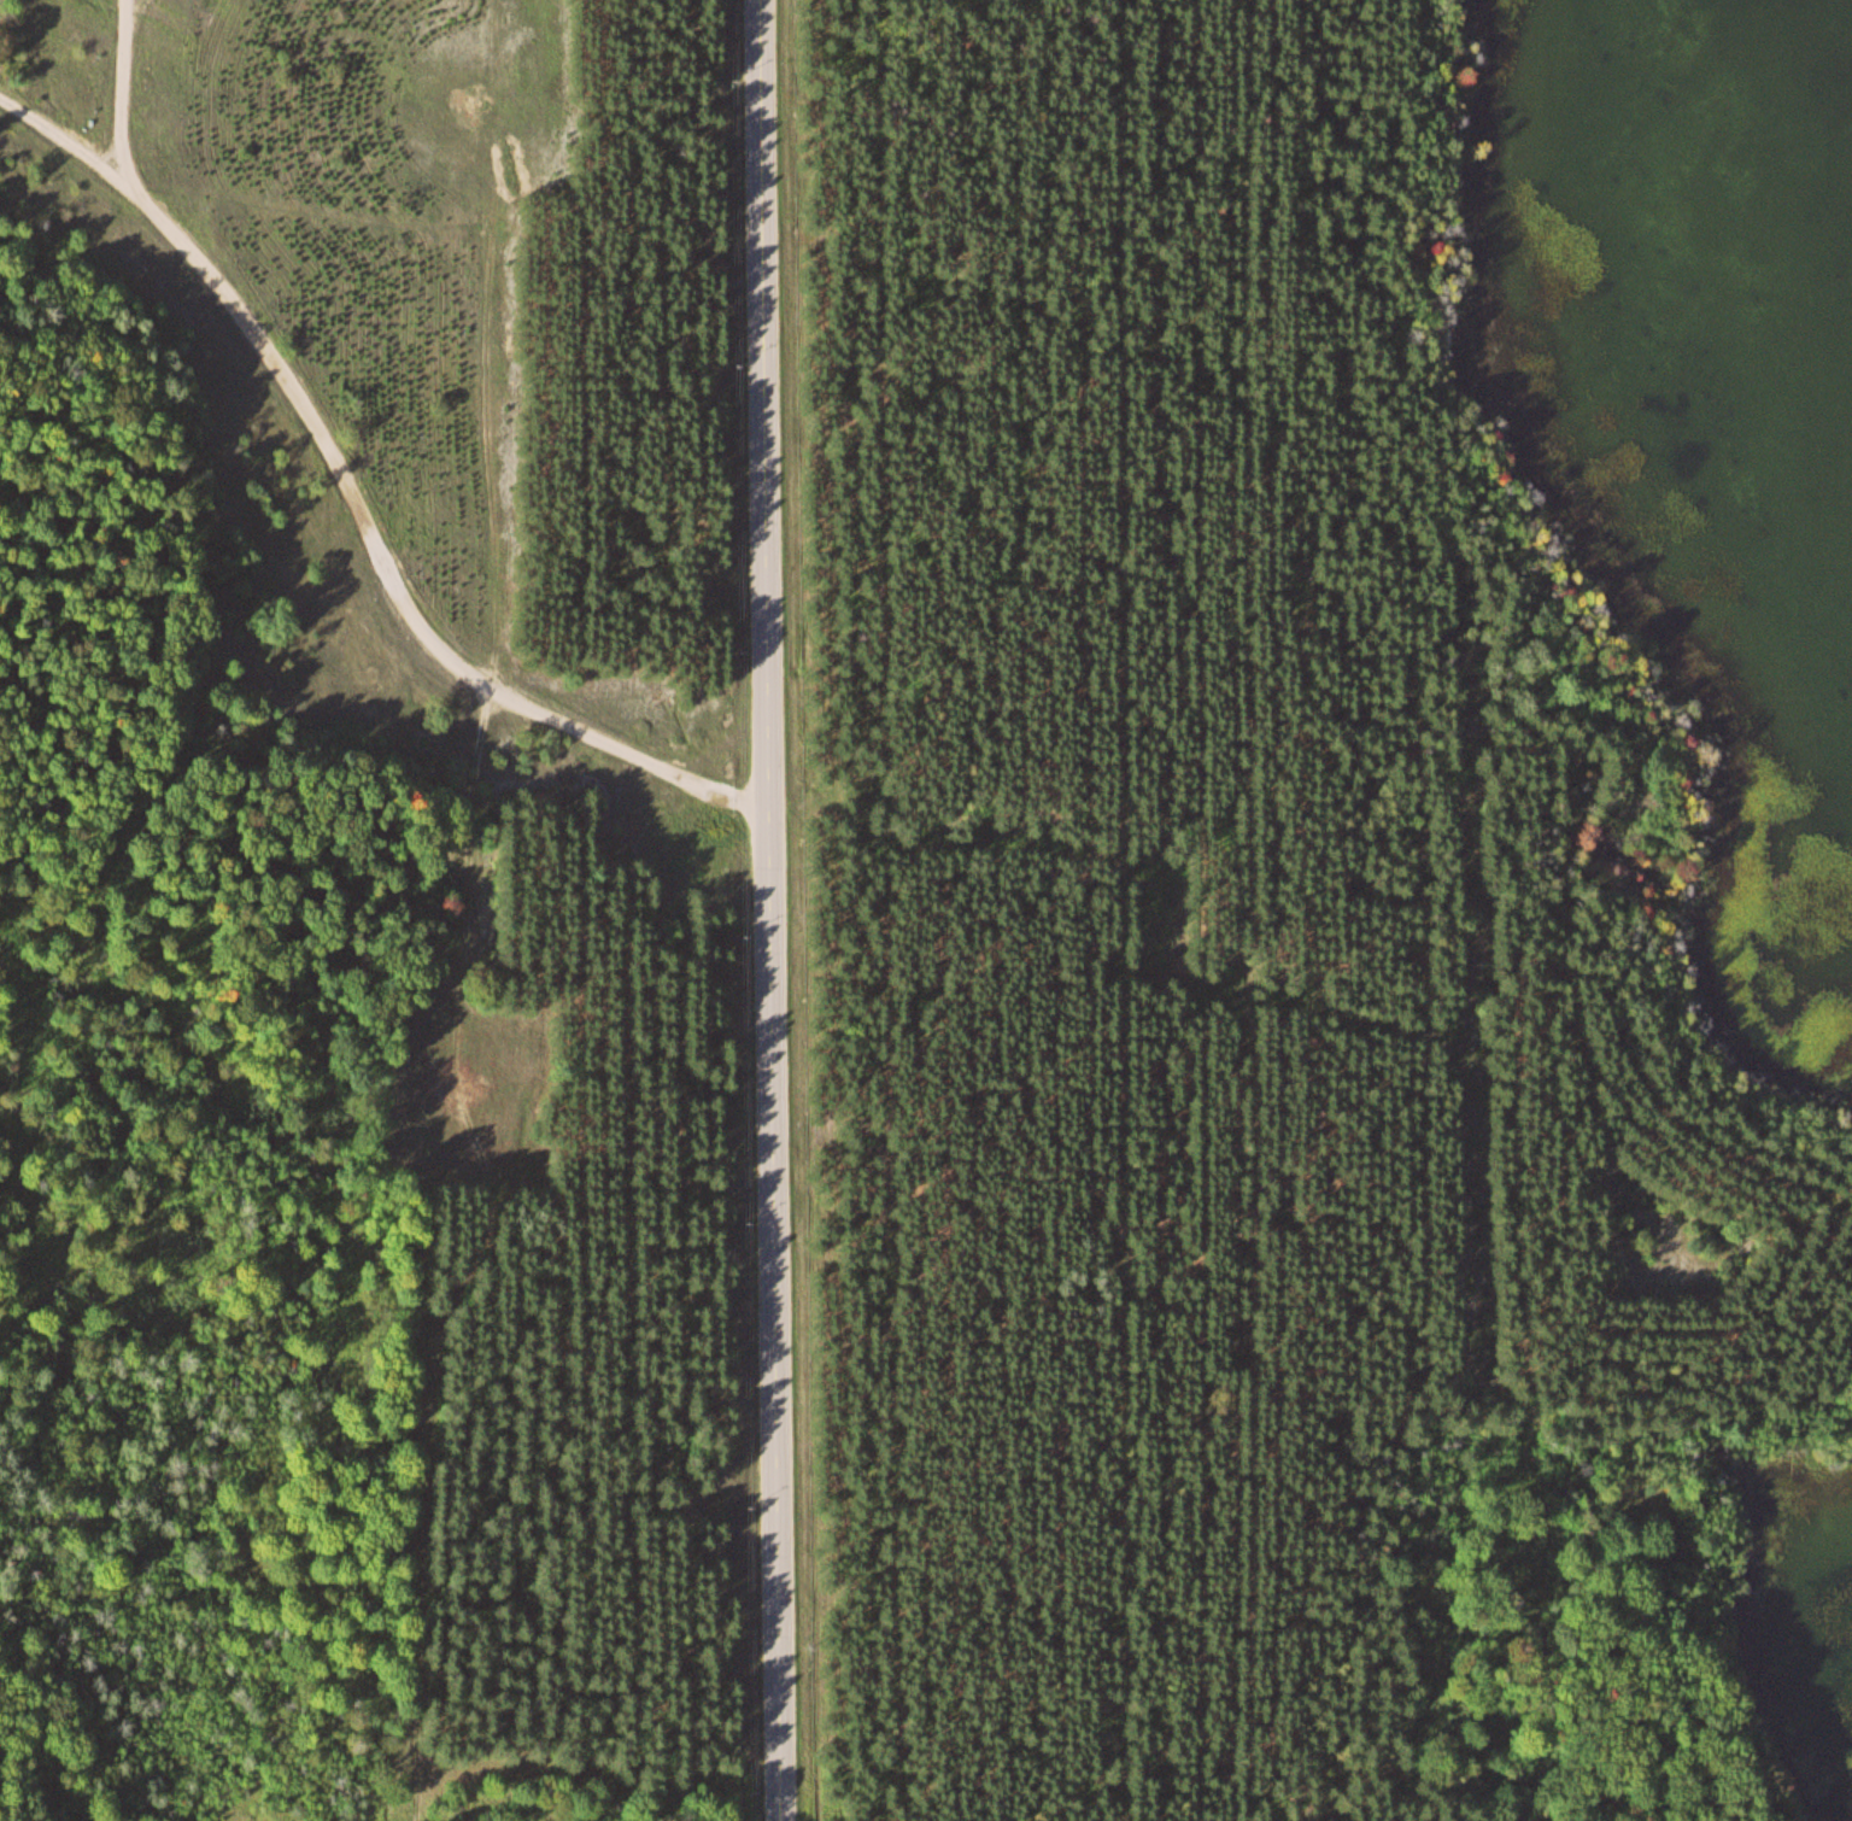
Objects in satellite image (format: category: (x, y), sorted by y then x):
road: (361, 499)
road: (774, 909)
road: (459, 1007)

